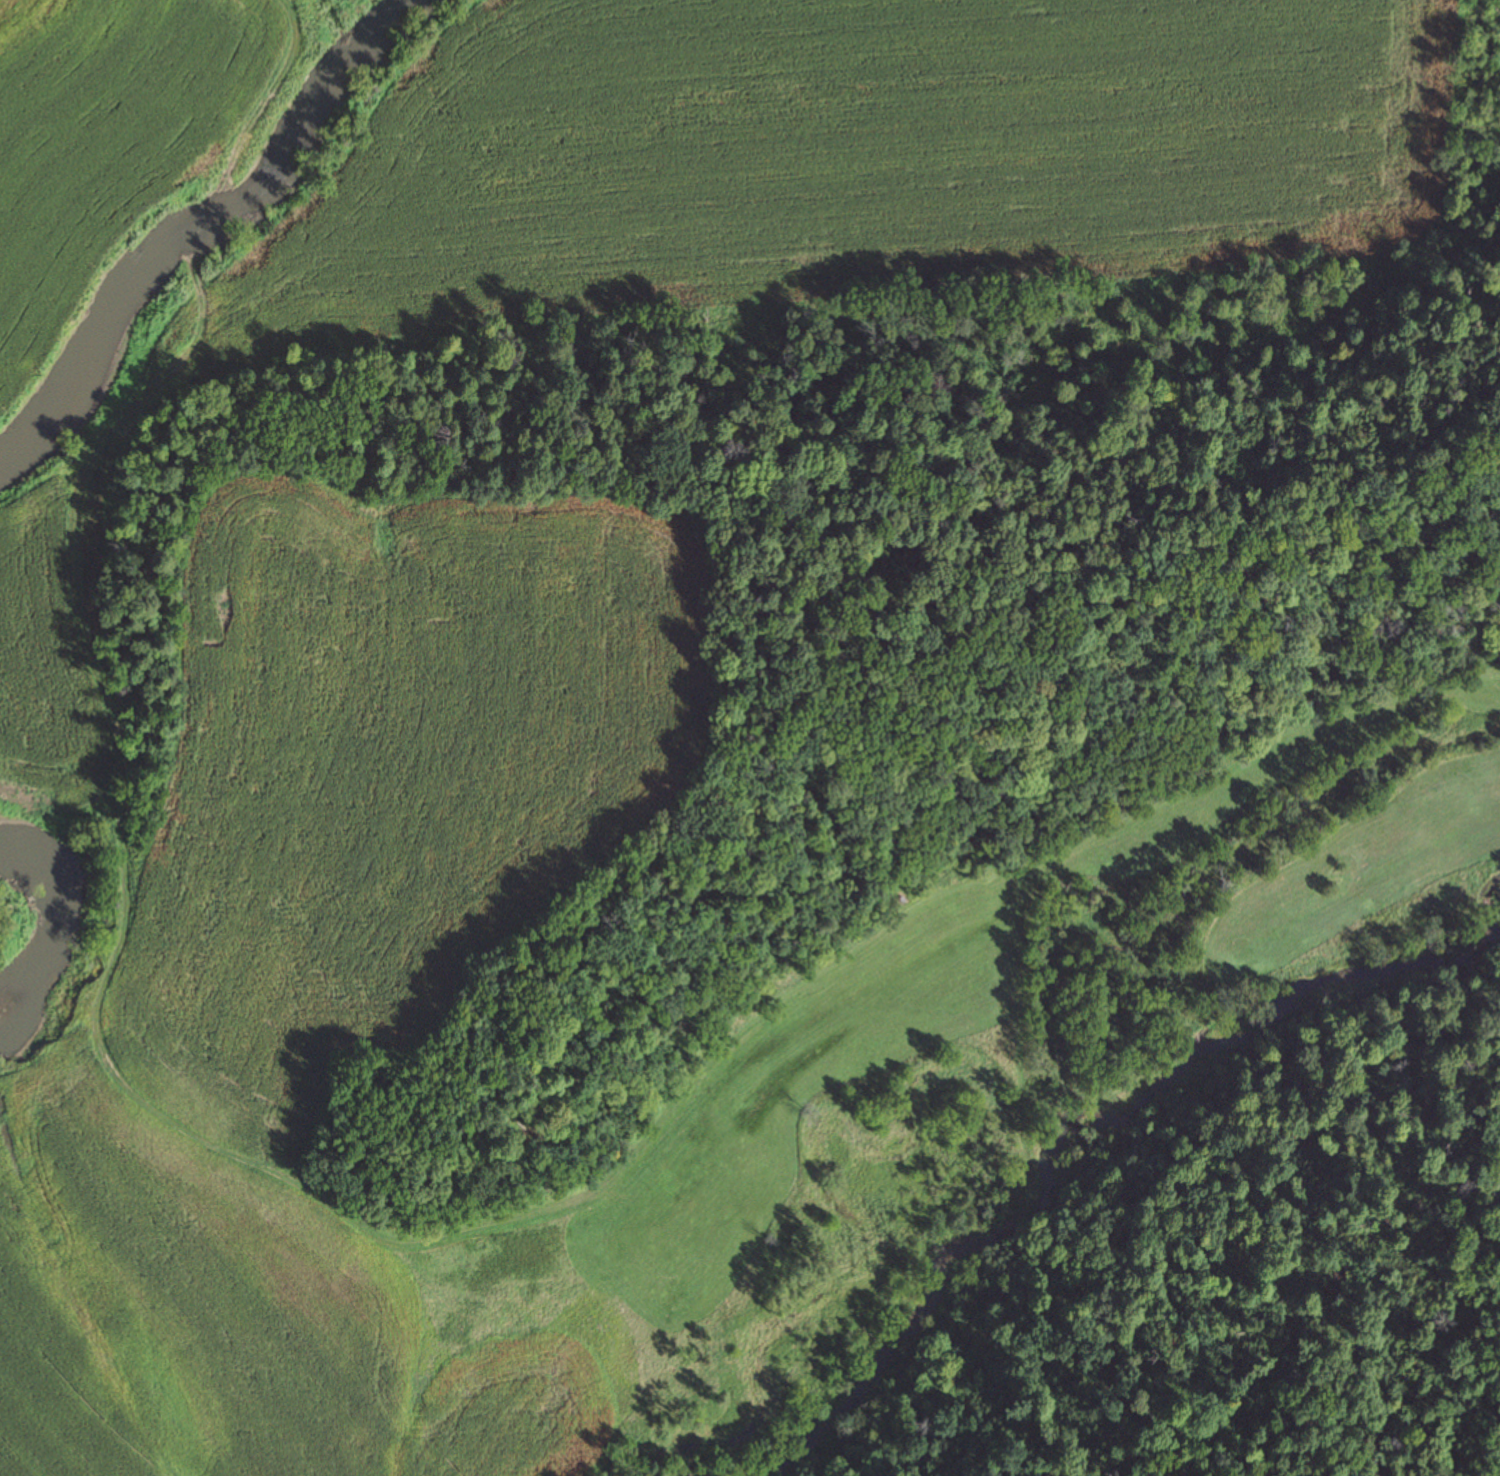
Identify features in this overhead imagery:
river: (200, 218)
river: (50, 898)

